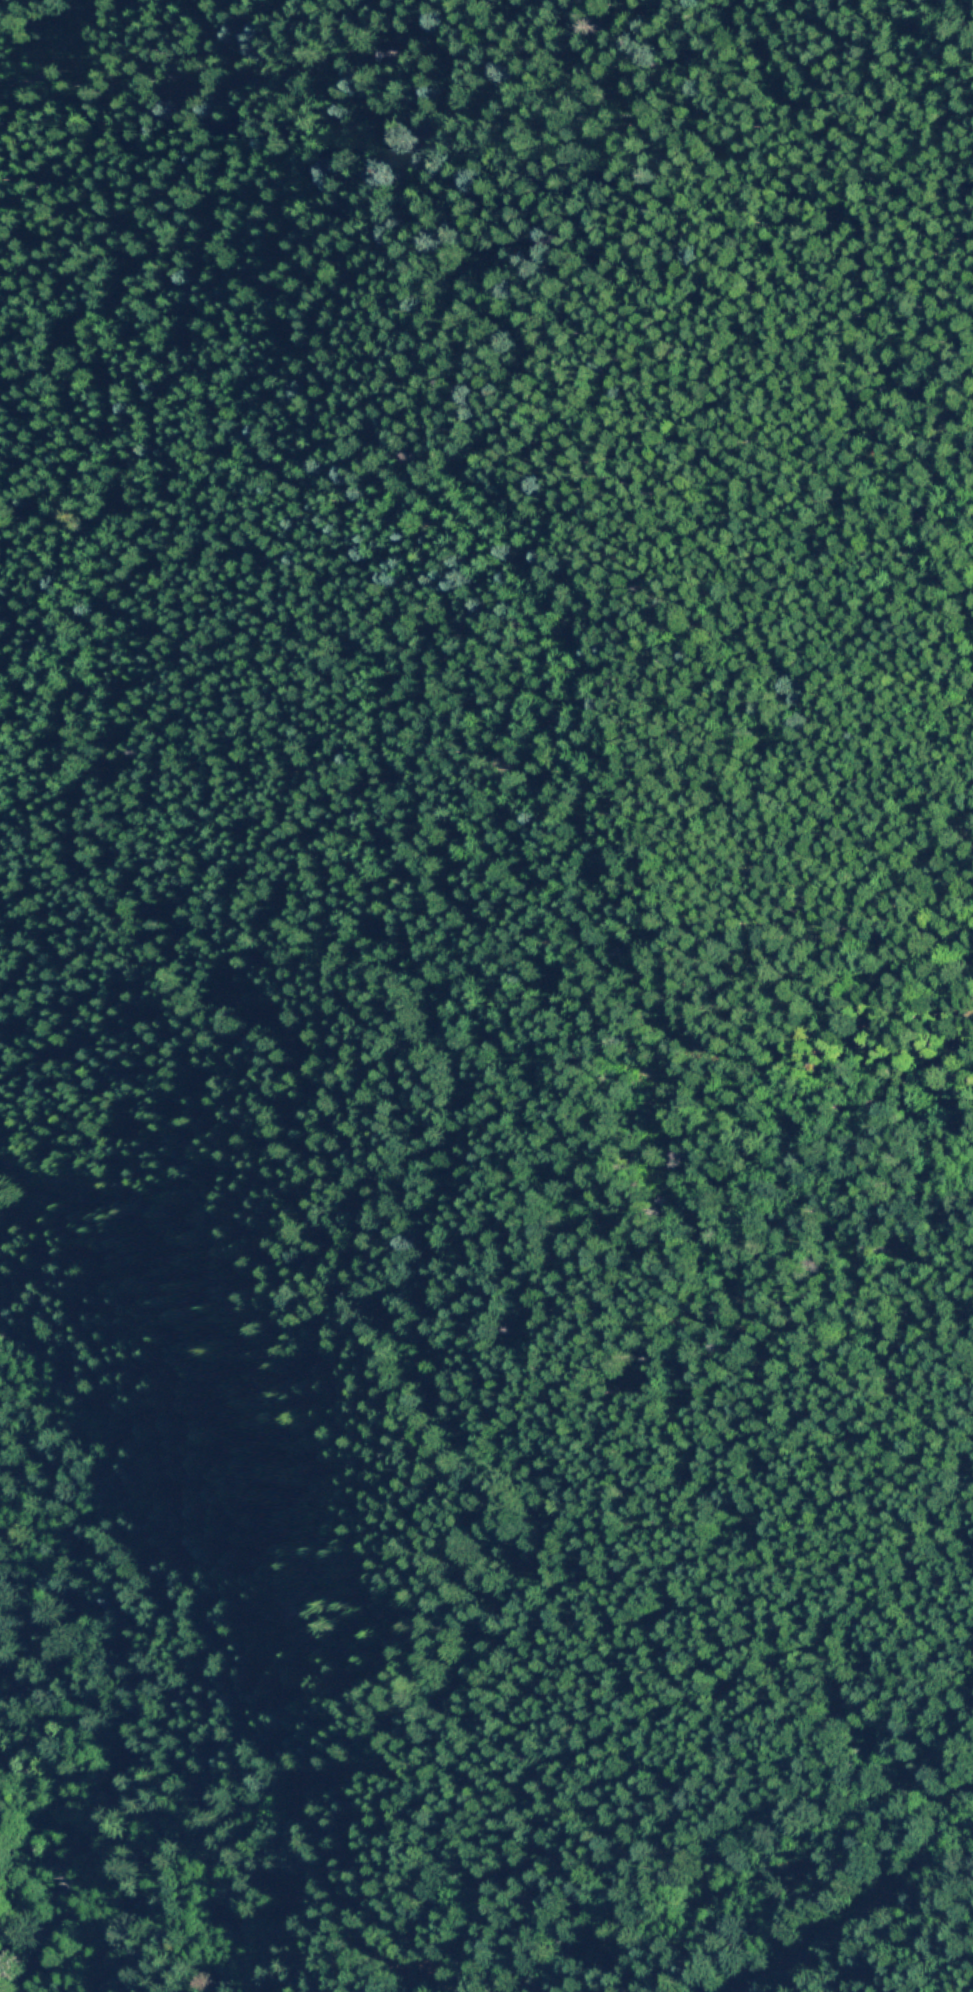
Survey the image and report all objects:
road: (44, 45)
road: (350, 1924)
road: (835, 1958)

